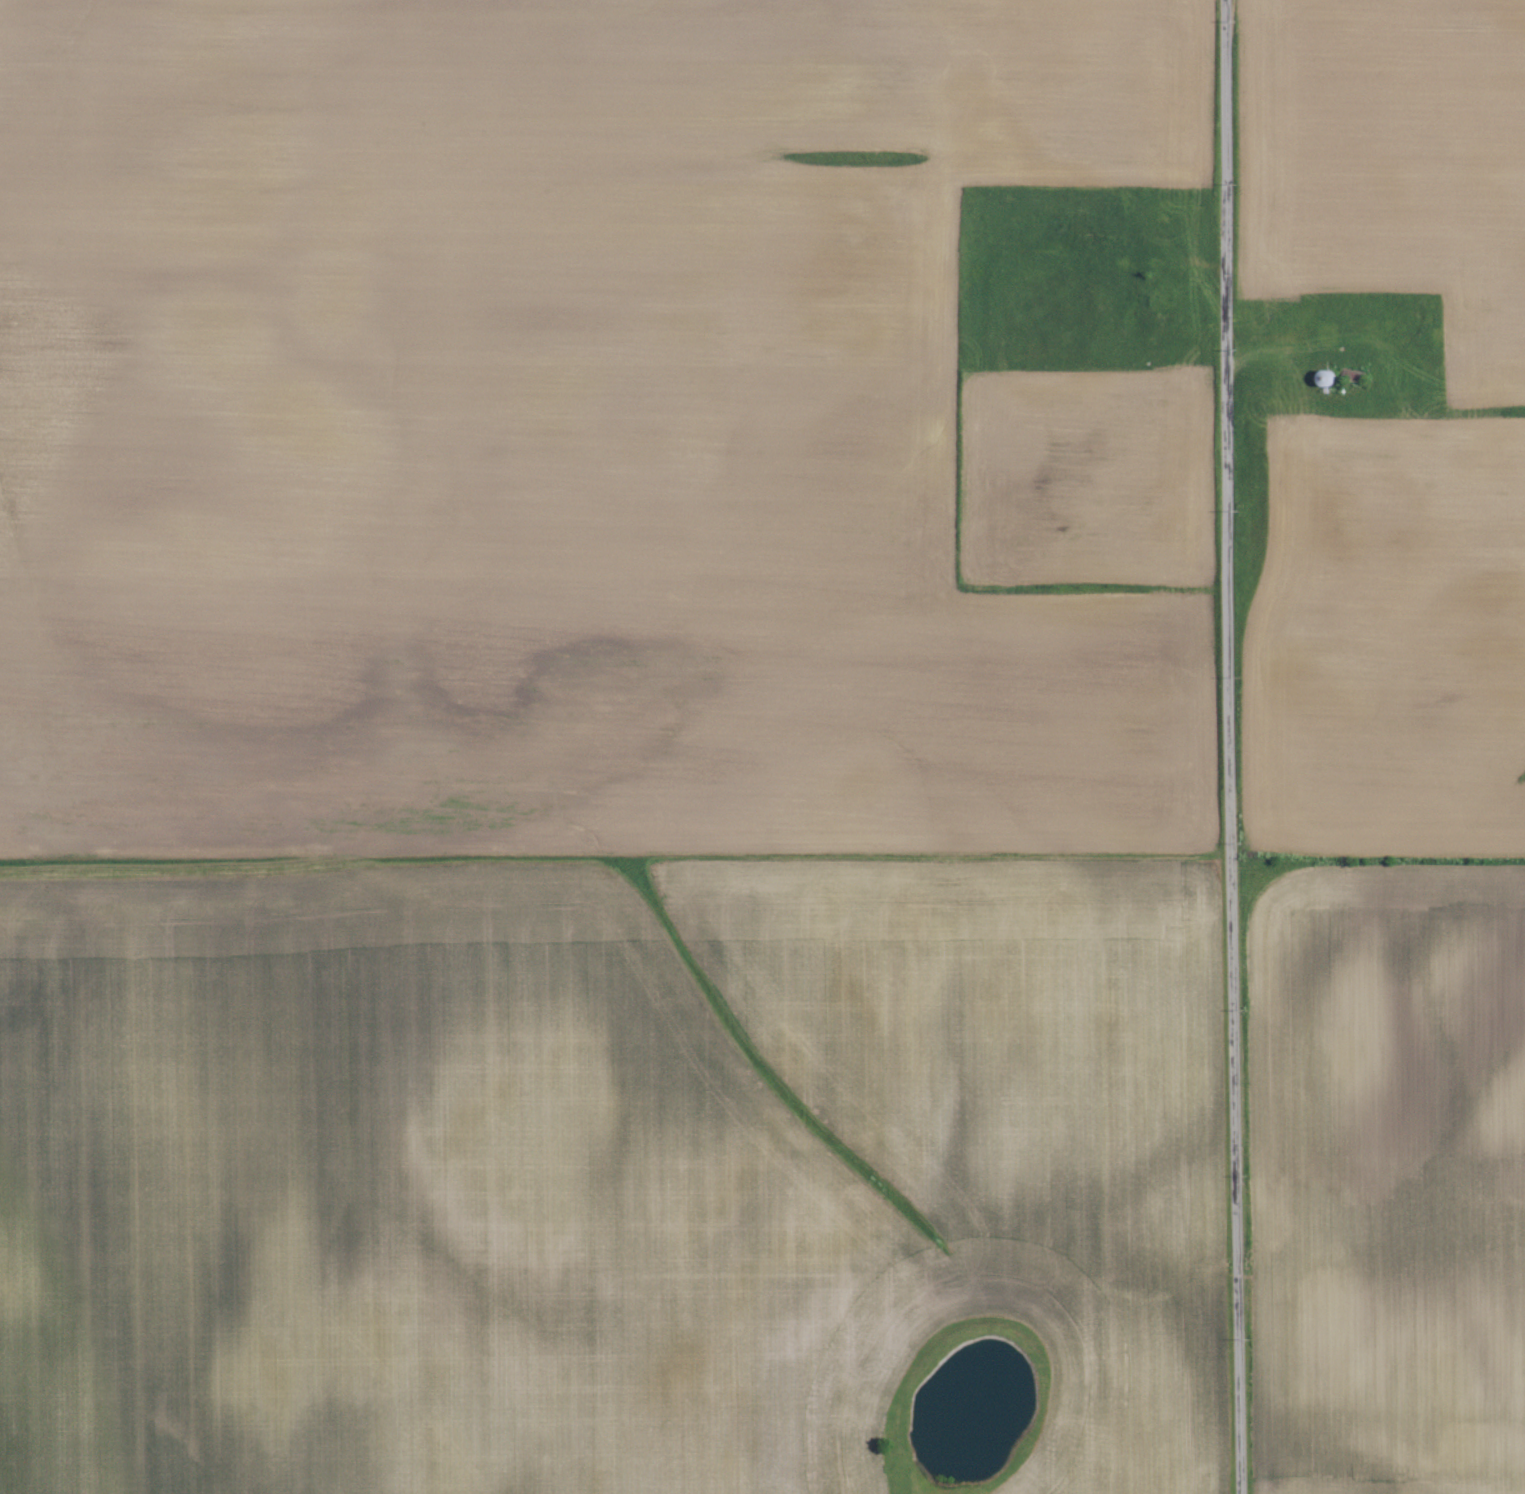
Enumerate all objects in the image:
road: (1229, 747)

